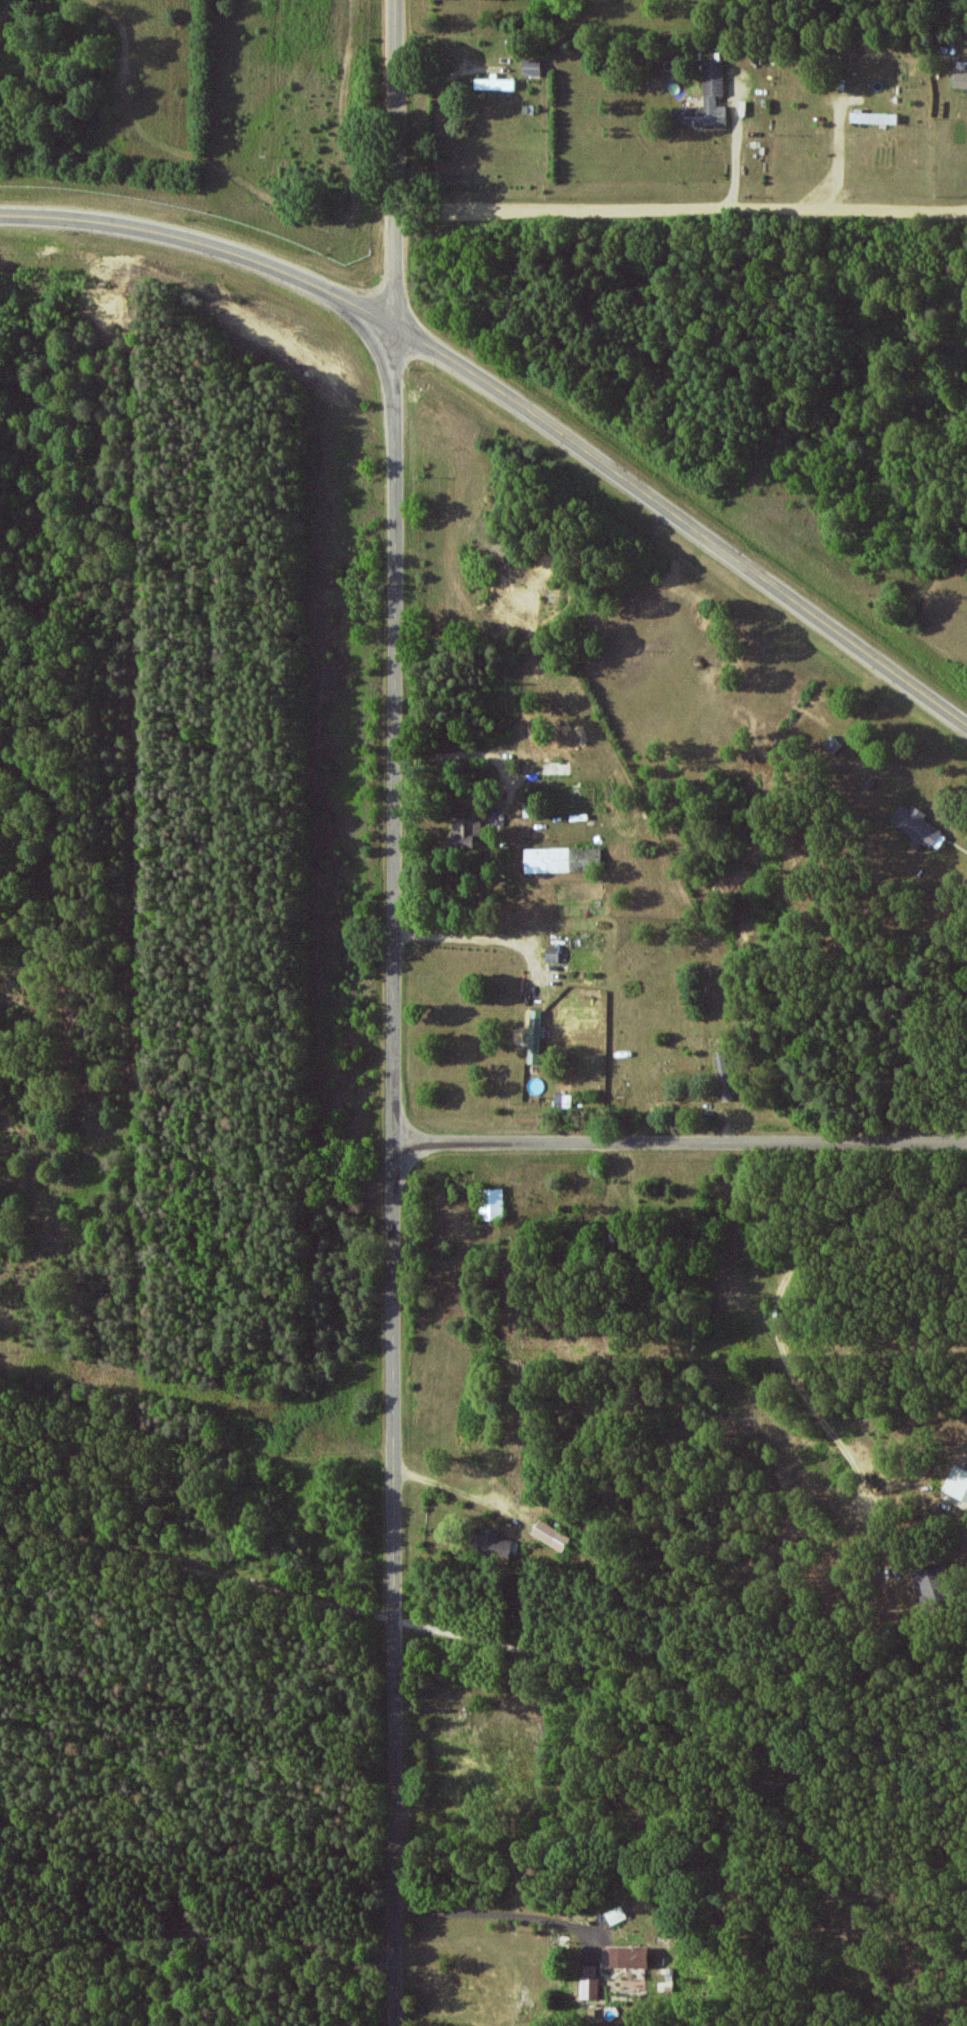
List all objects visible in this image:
building: (532, 67)
building: (960, 79)
building: (495, 83)
building: (705, 100)
building: (874, 117)
road: (681, 219)
road: (514, 399)
building: (534, 737)
building: (917, 826)
building: (465, 832)
building: (560, 859)
road: (395, 1013)
building: (534, 1036)
building: (726, 1075)
road: (680, 1142)
building: (491, 1204)
road: (776, 1314)
road: (192, 1441)
building: (957, 1482)
building: (550, 1535)
building: (491, 1544)
building: (934, 1585)
road: (483, 1642)
road: (491, 1912)
building: (627, 1956)
building: (591, 1981)

